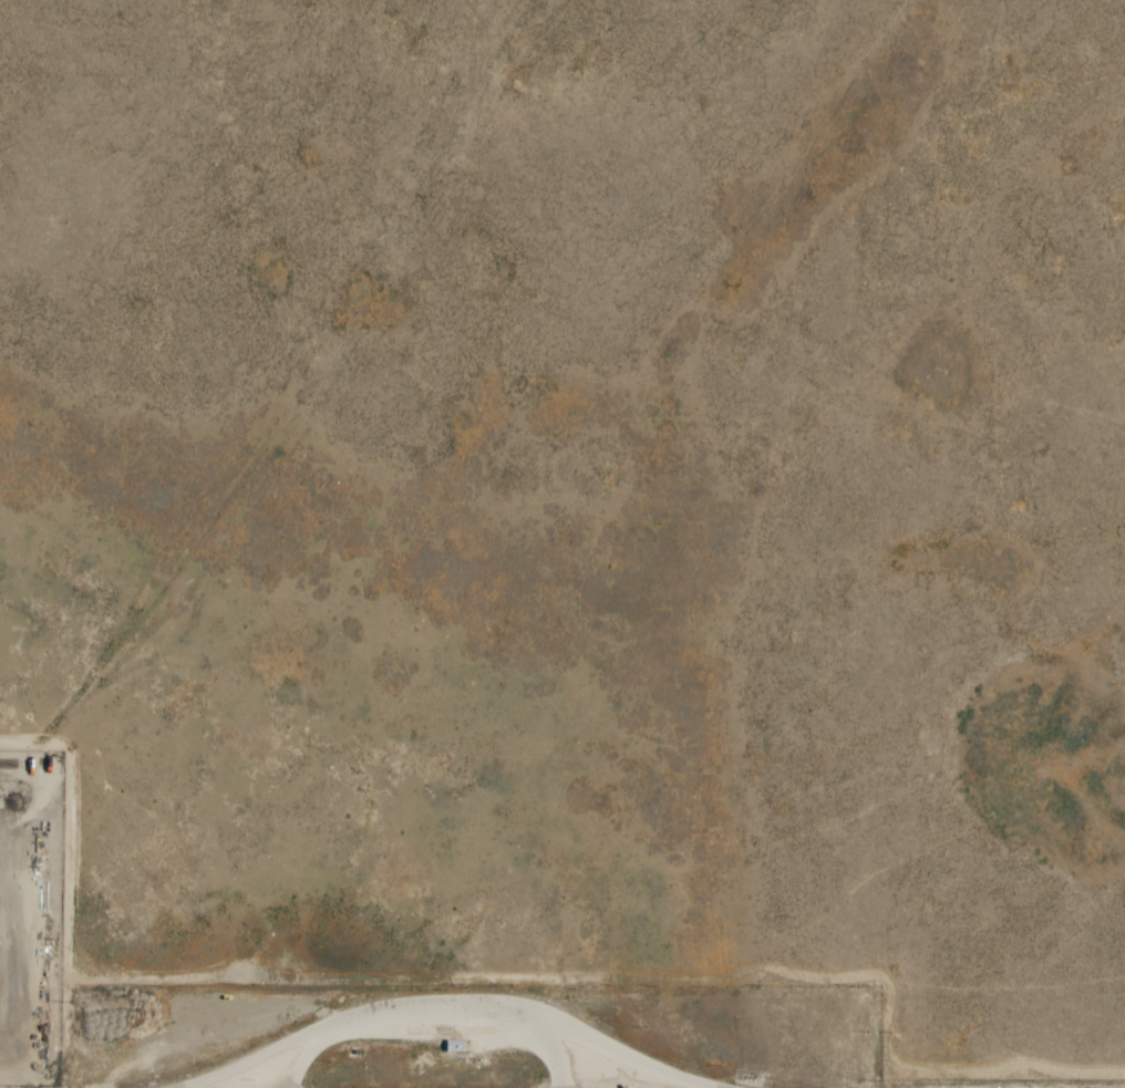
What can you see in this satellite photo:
road: (451, 1019)
building: (454, 1047)
road: (553, 1053)
road: (307, 1057)

